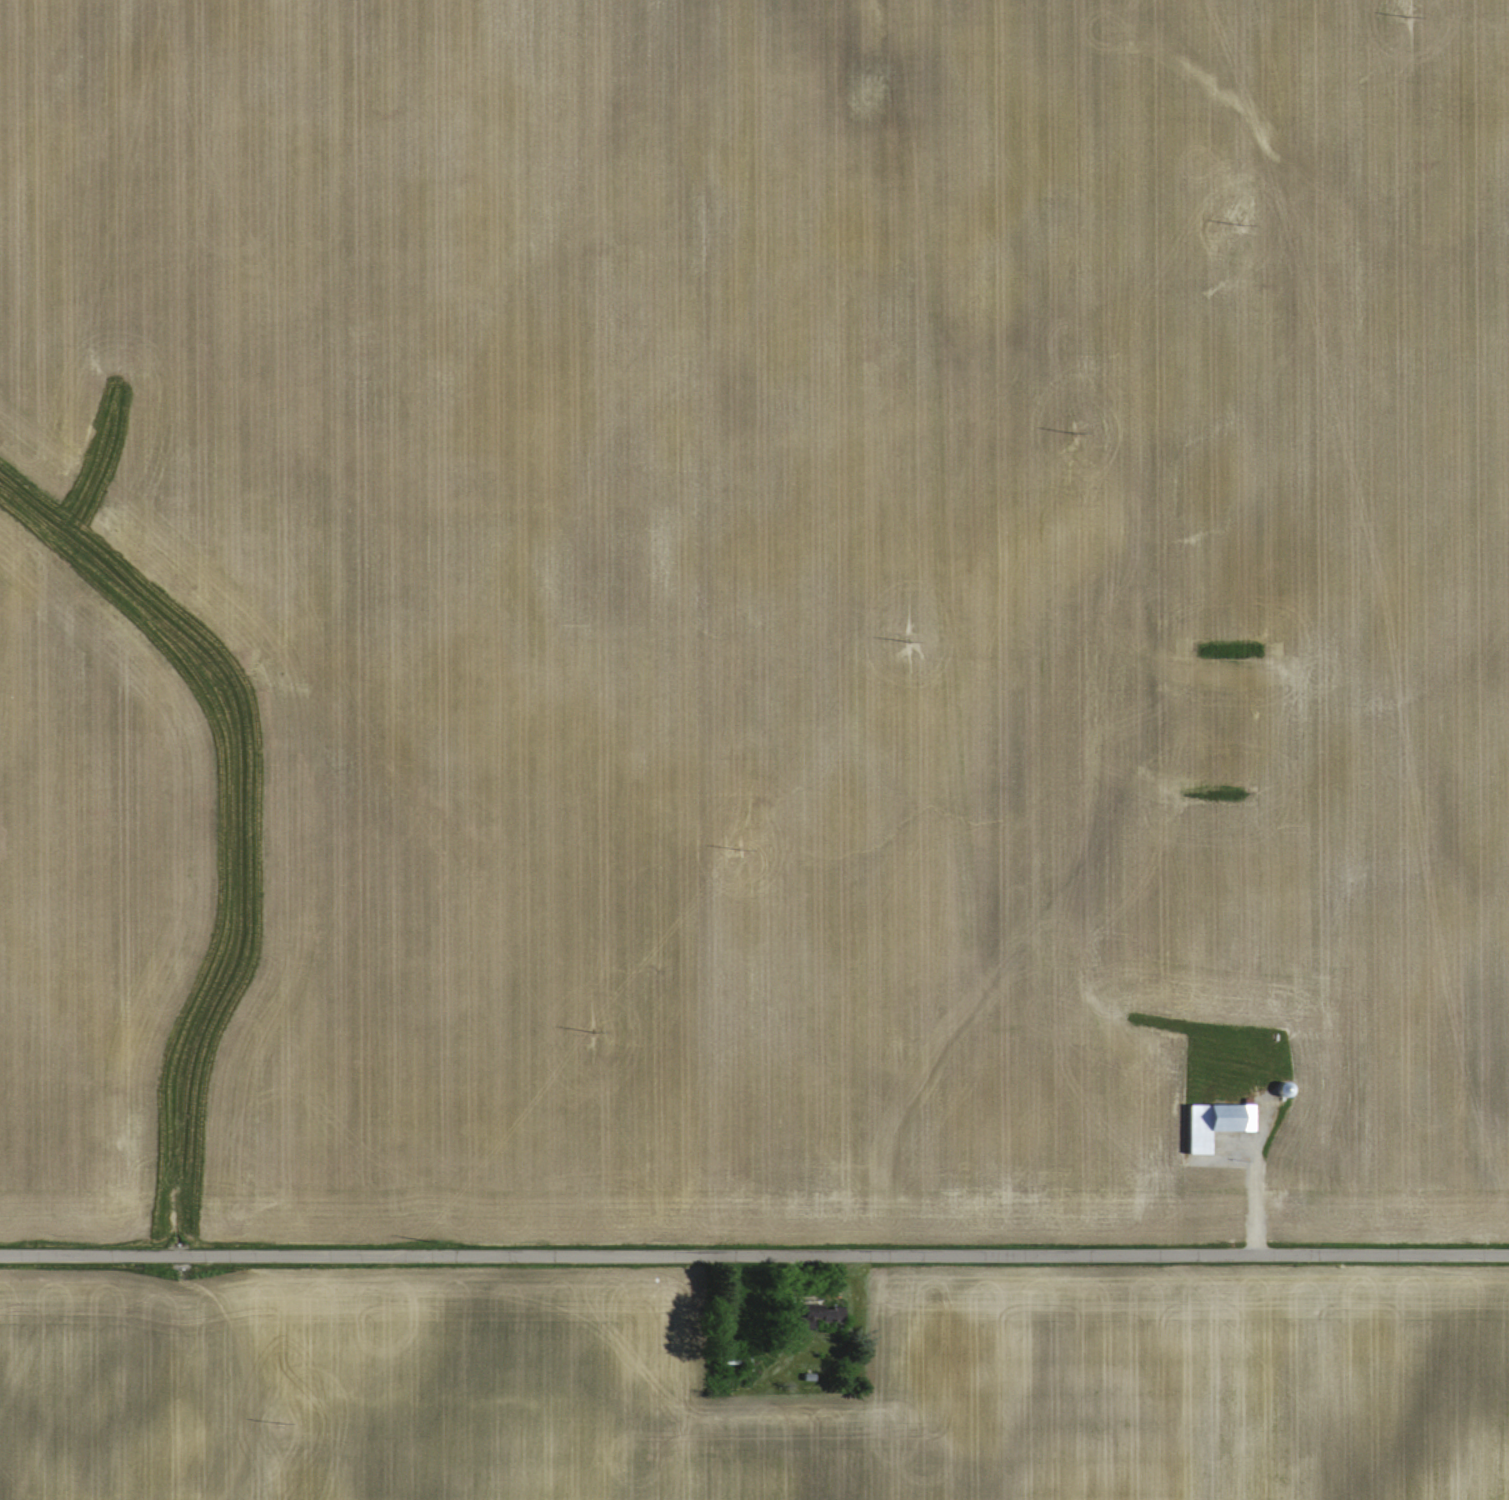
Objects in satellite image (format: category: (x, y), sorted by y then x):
building: (1214, 1117)
road: (1251, 1170)
road: (754, 1252)

